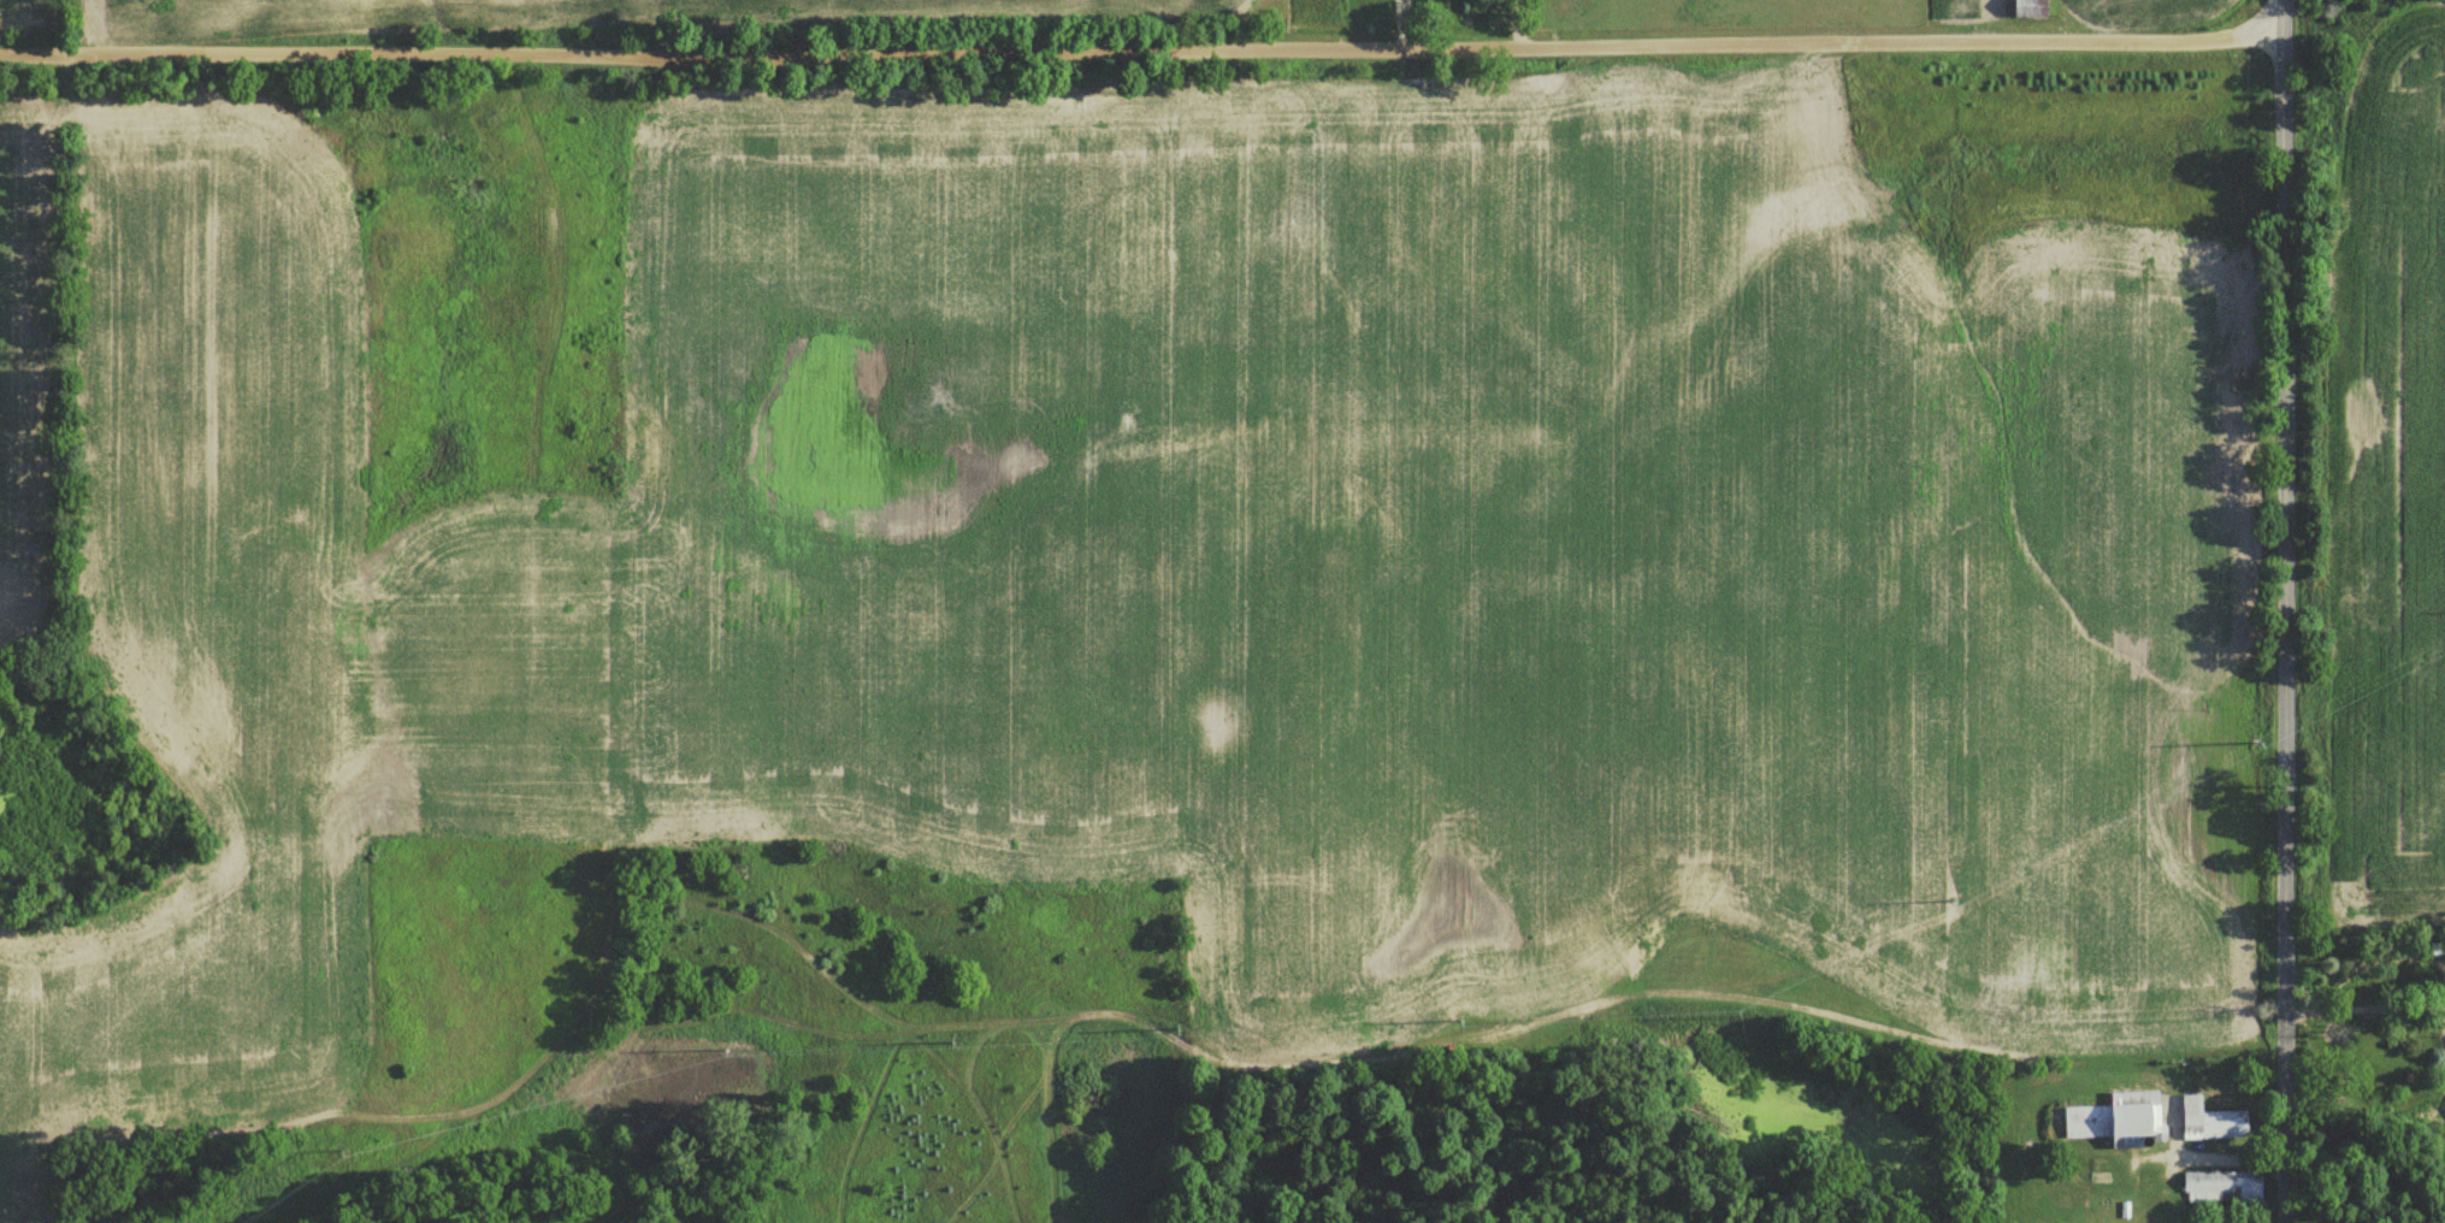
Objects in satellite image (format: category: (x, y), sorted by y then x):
road: (1140, 46)
road: (2282, 610)
power tower: (2319, 703)
power tower: (1963, 891)
road: (2364, 1006)
power tower: (1736, 1014)
power tower: (1448, 1020)
power tower: (1176, 1024)
power tower: (716, 1047)
building: (2210, 1121)
building: (2116, 1124)
power tower: (336, 1153)
road: (2208, 1154)
building: (2221, 1187)

